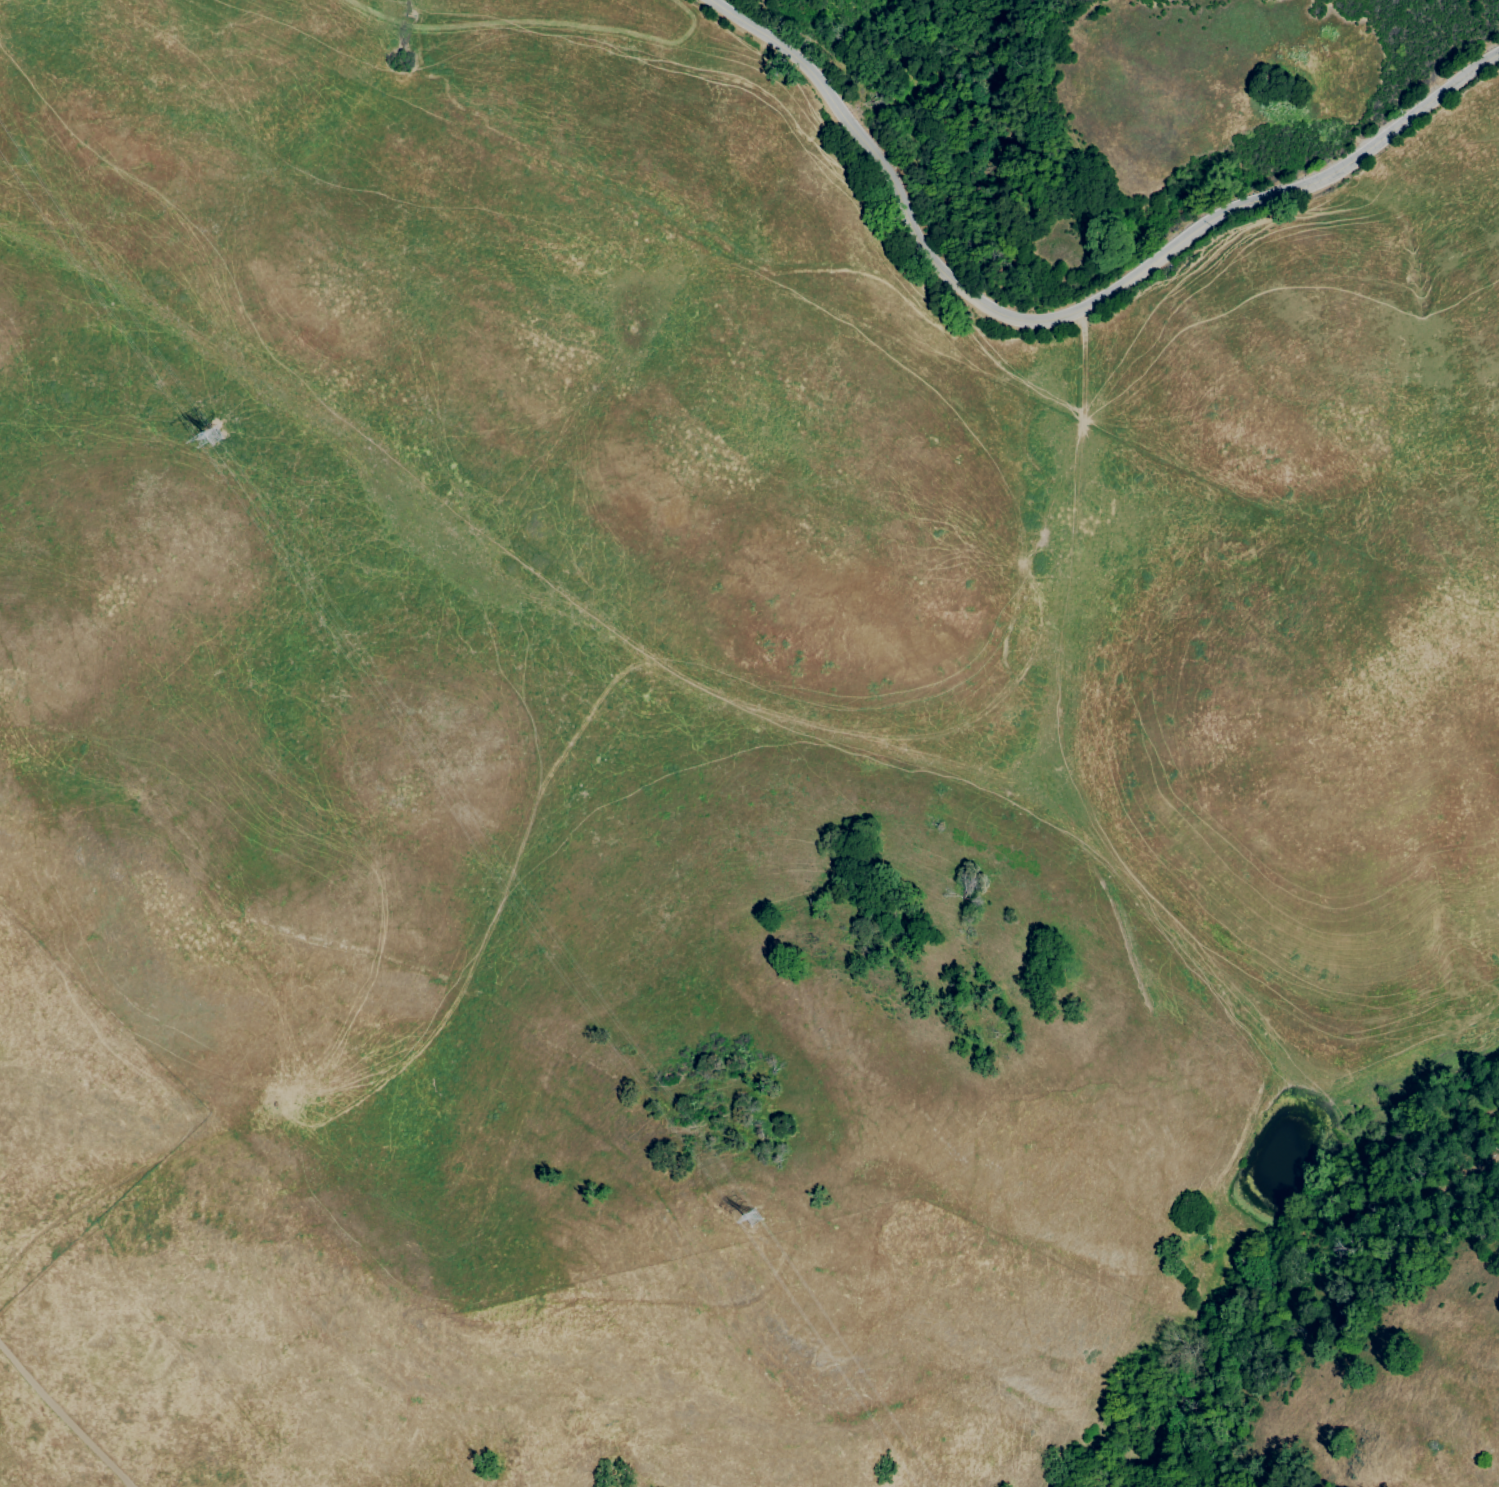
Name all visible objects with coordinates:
road: (1070, 316)
power tower: (212, 442)
power tower: (751, 1223)
road: (63, 1416)

